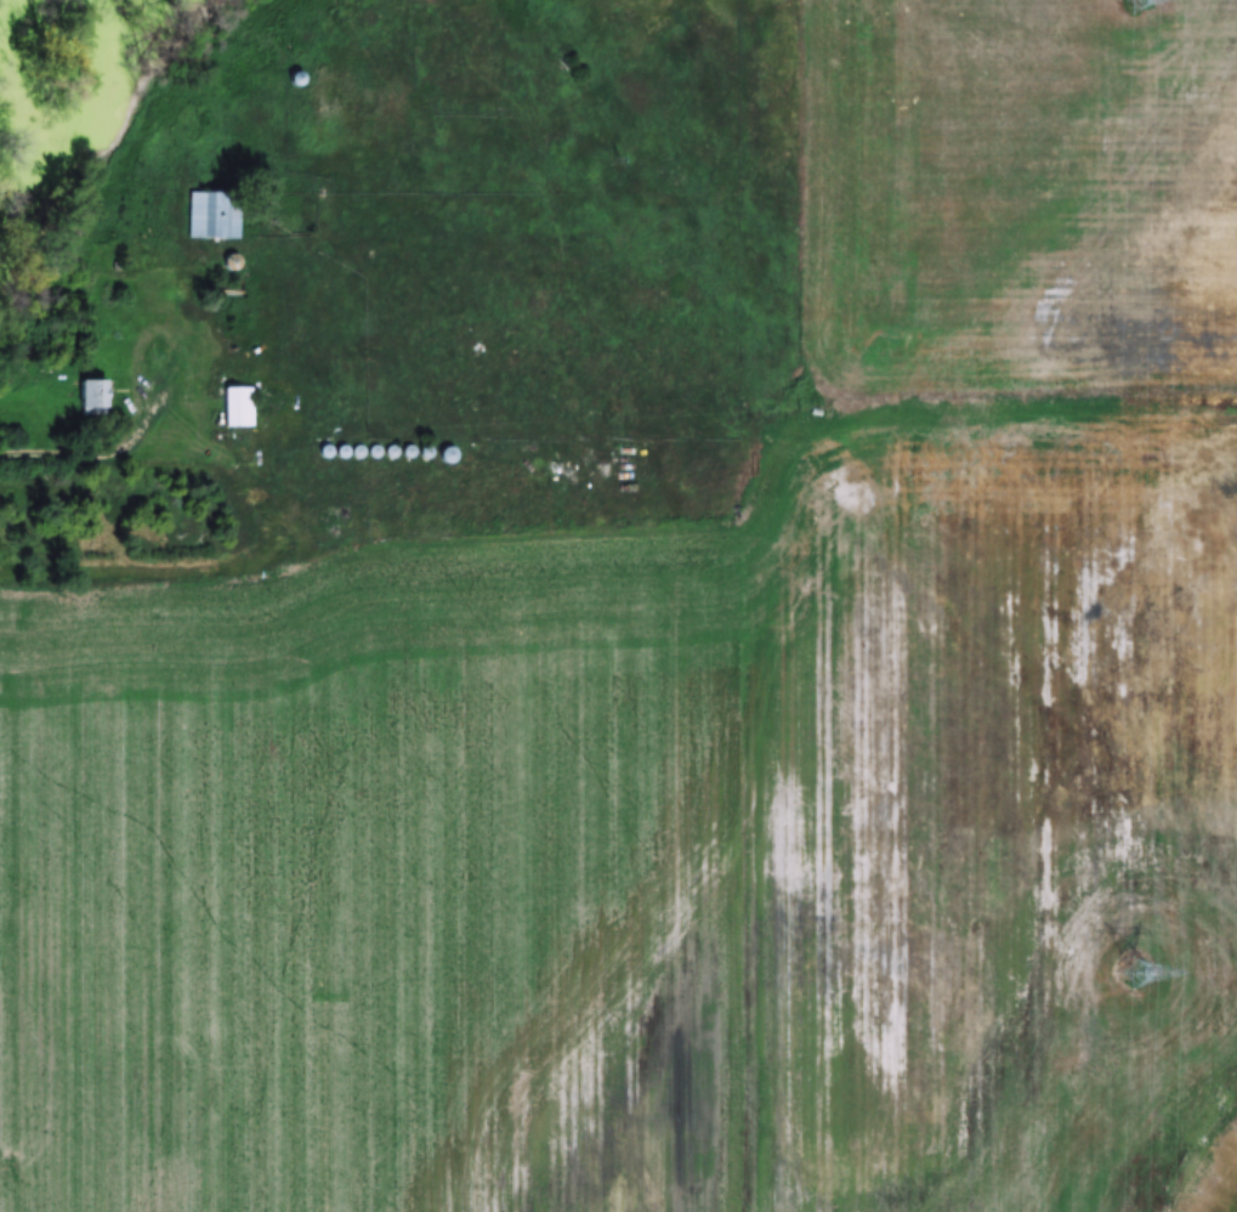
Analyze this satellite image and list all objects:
building: (214, 215)
building: (92, 395)
building: (233, 406)
power tower: (1129, 972)

